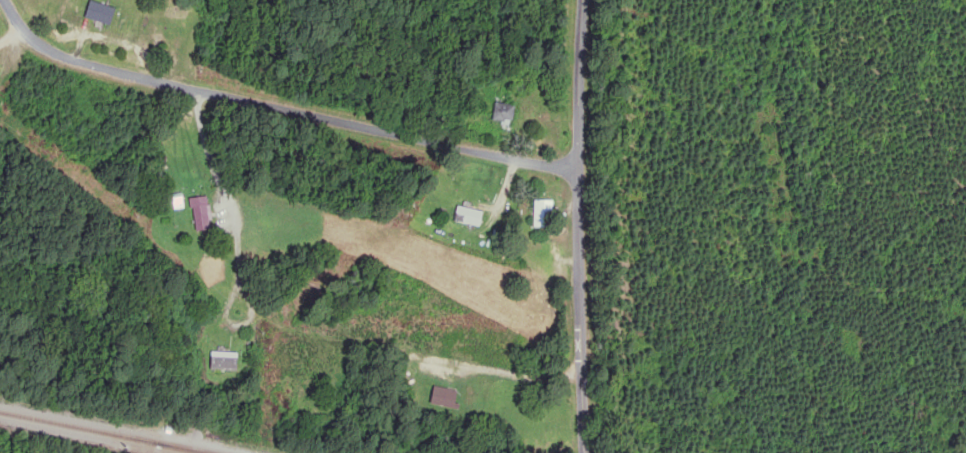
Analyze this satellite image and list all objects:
building: (98, 13)
road: (279, 109)
building: (503, 115)
building: (199, 214)
building: (467, 217)
road: (578, 226)
road: (292, 338)
building: (223, 362)
building: (442, 398)
railway: (114, 431)

